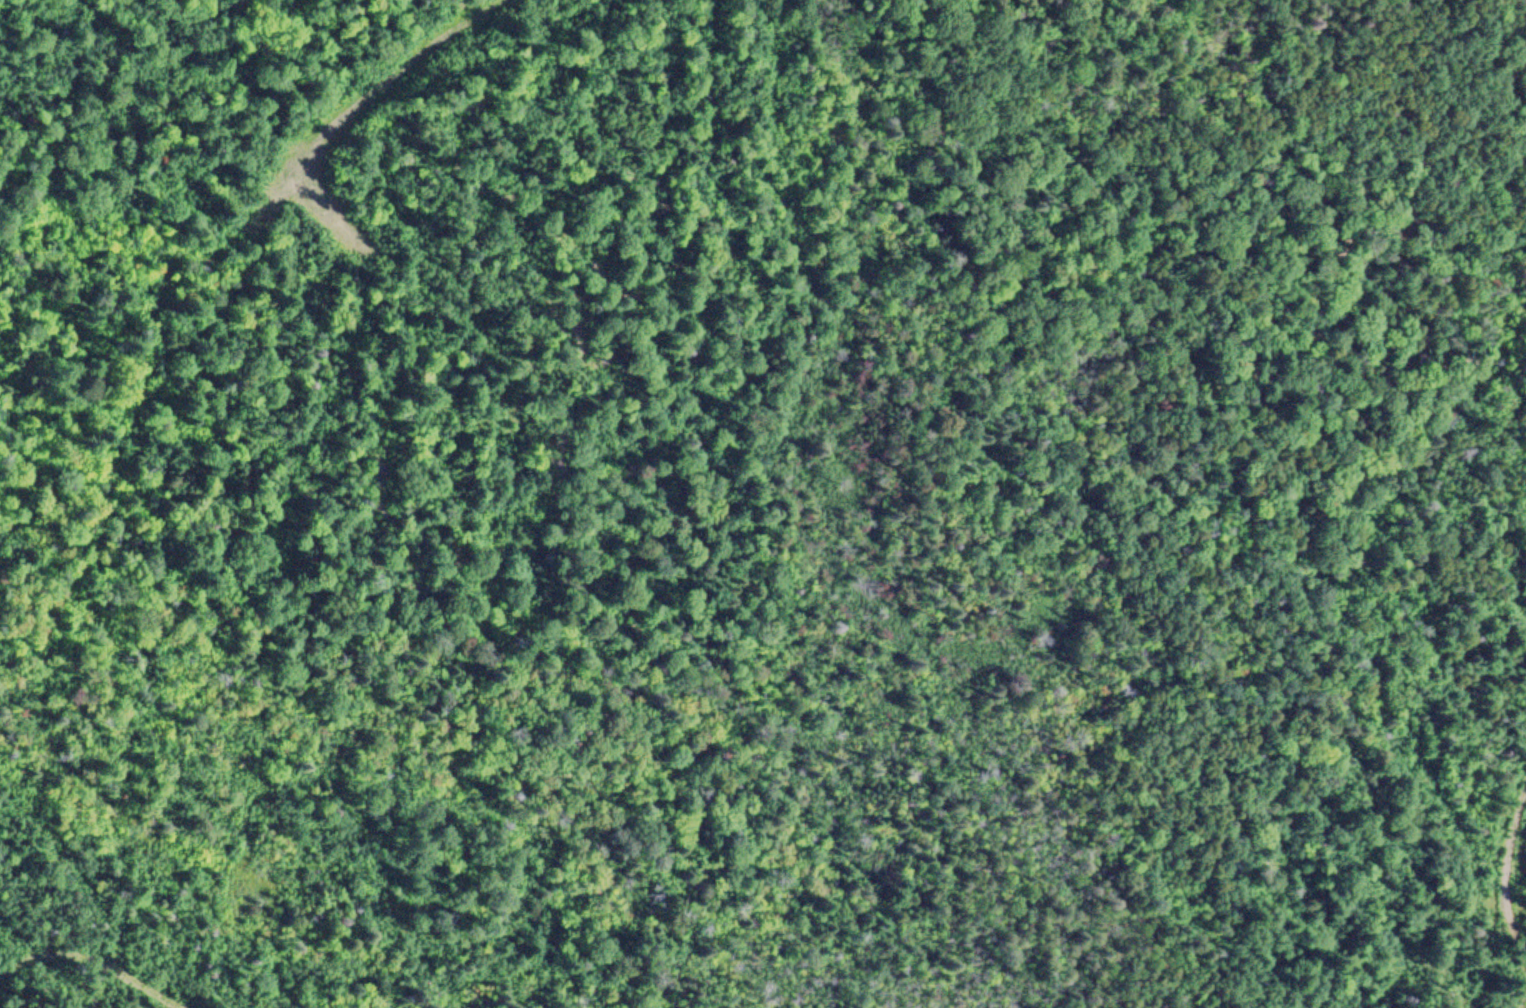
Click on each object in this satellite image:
road: (388, 60)
road: (1501, 886)
road: (113, 939)

